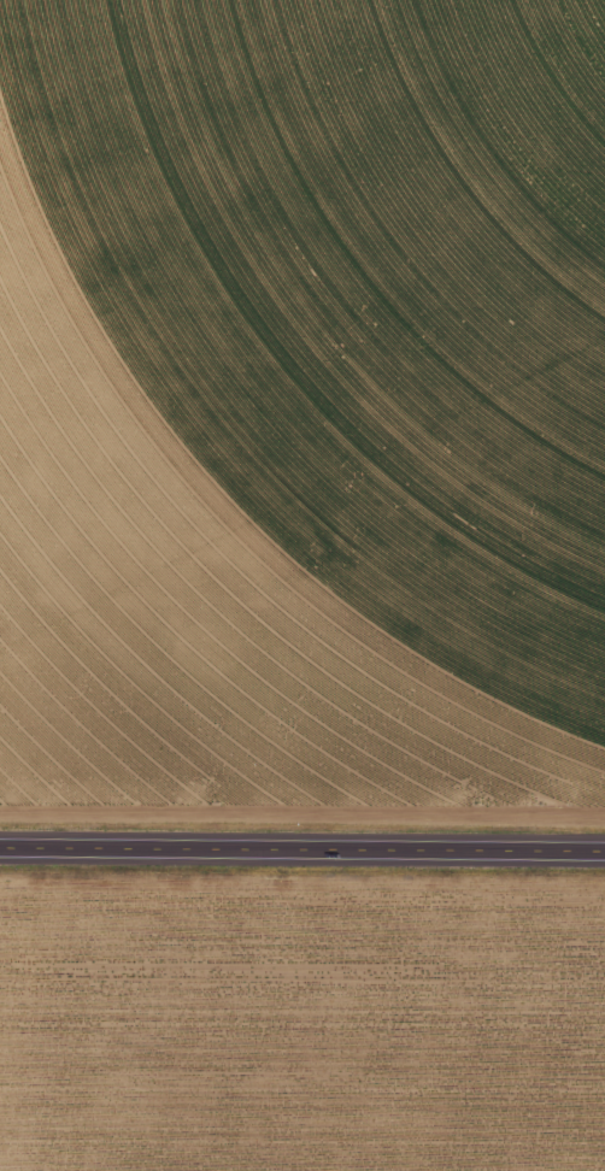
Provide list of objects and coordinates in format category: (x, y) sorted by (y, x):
road: (302, 867)

